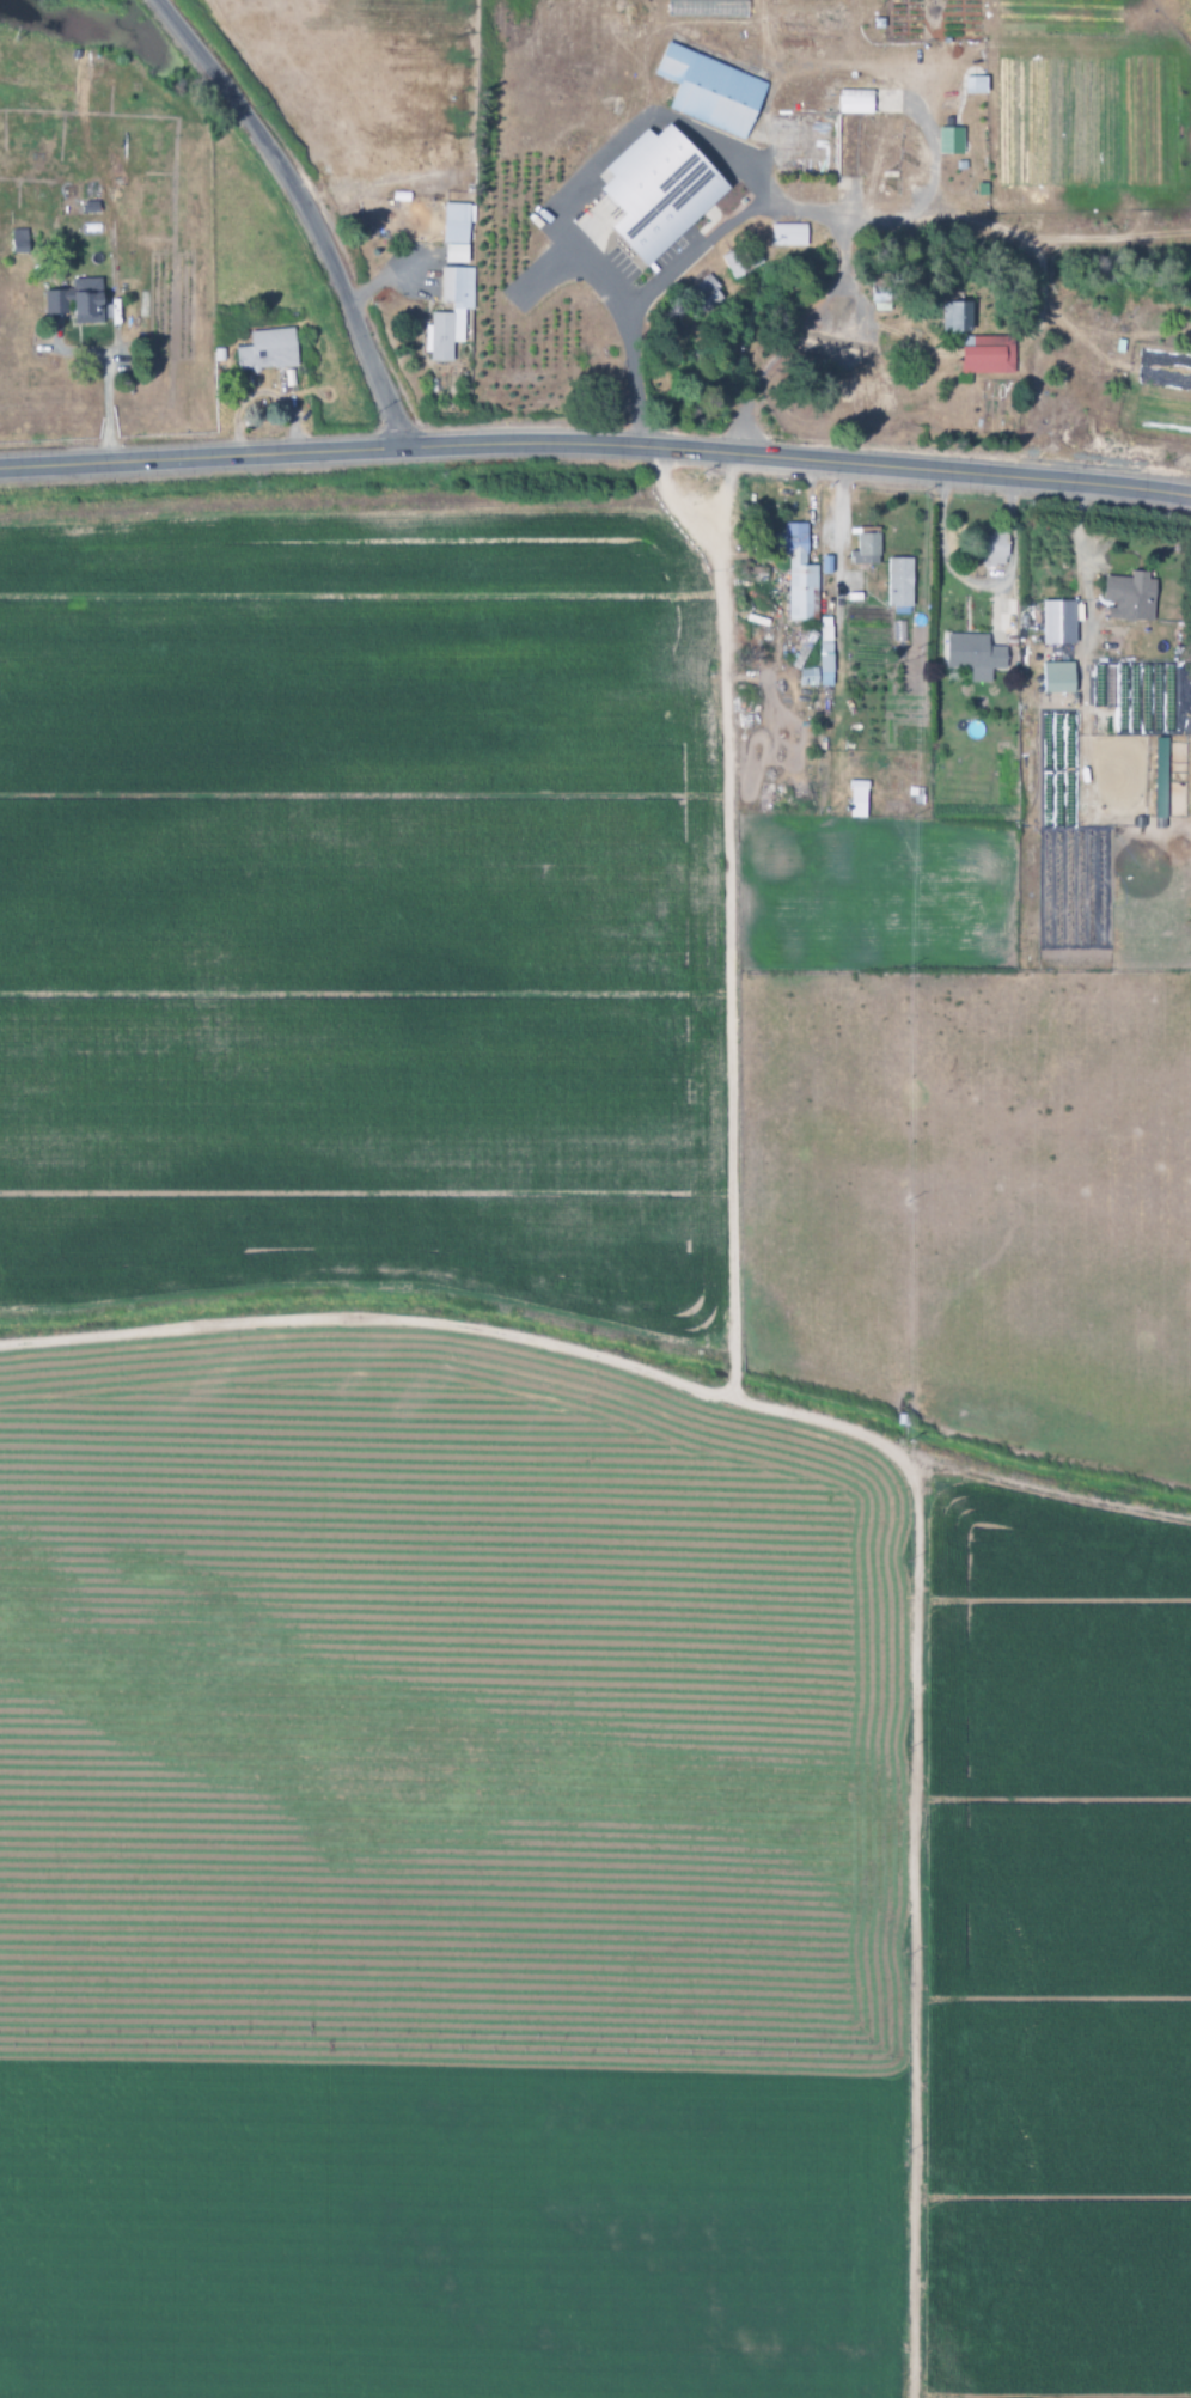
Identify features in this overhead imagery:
building: (707, 8)
building: (710, 91)
building: (855, 102)
building: (949, 140)
crop: (499, 190)
building: (658, 191)
road: (304, 208)
building: (456, 232)
building: (788, 236)
building: (19, 242)
building: (741, 261)
building: (880, 292)
building: (703, 294)
building: (77, 300)
building: (450, 315)
building: (957, 316)
building: (267, 350)
building: (987, 355)
road: (595, 443)
building: (867, 548)
building: (994, 550)
building: (796, 570)
building: (900, 586)
building: (1130, 597)
building: (1058, 623)
building: (825, 652)
building: (973, 657)
building: (1058, 678)
building: (1160, 779)
building: (857, 800)
crop: (558, 1517)

